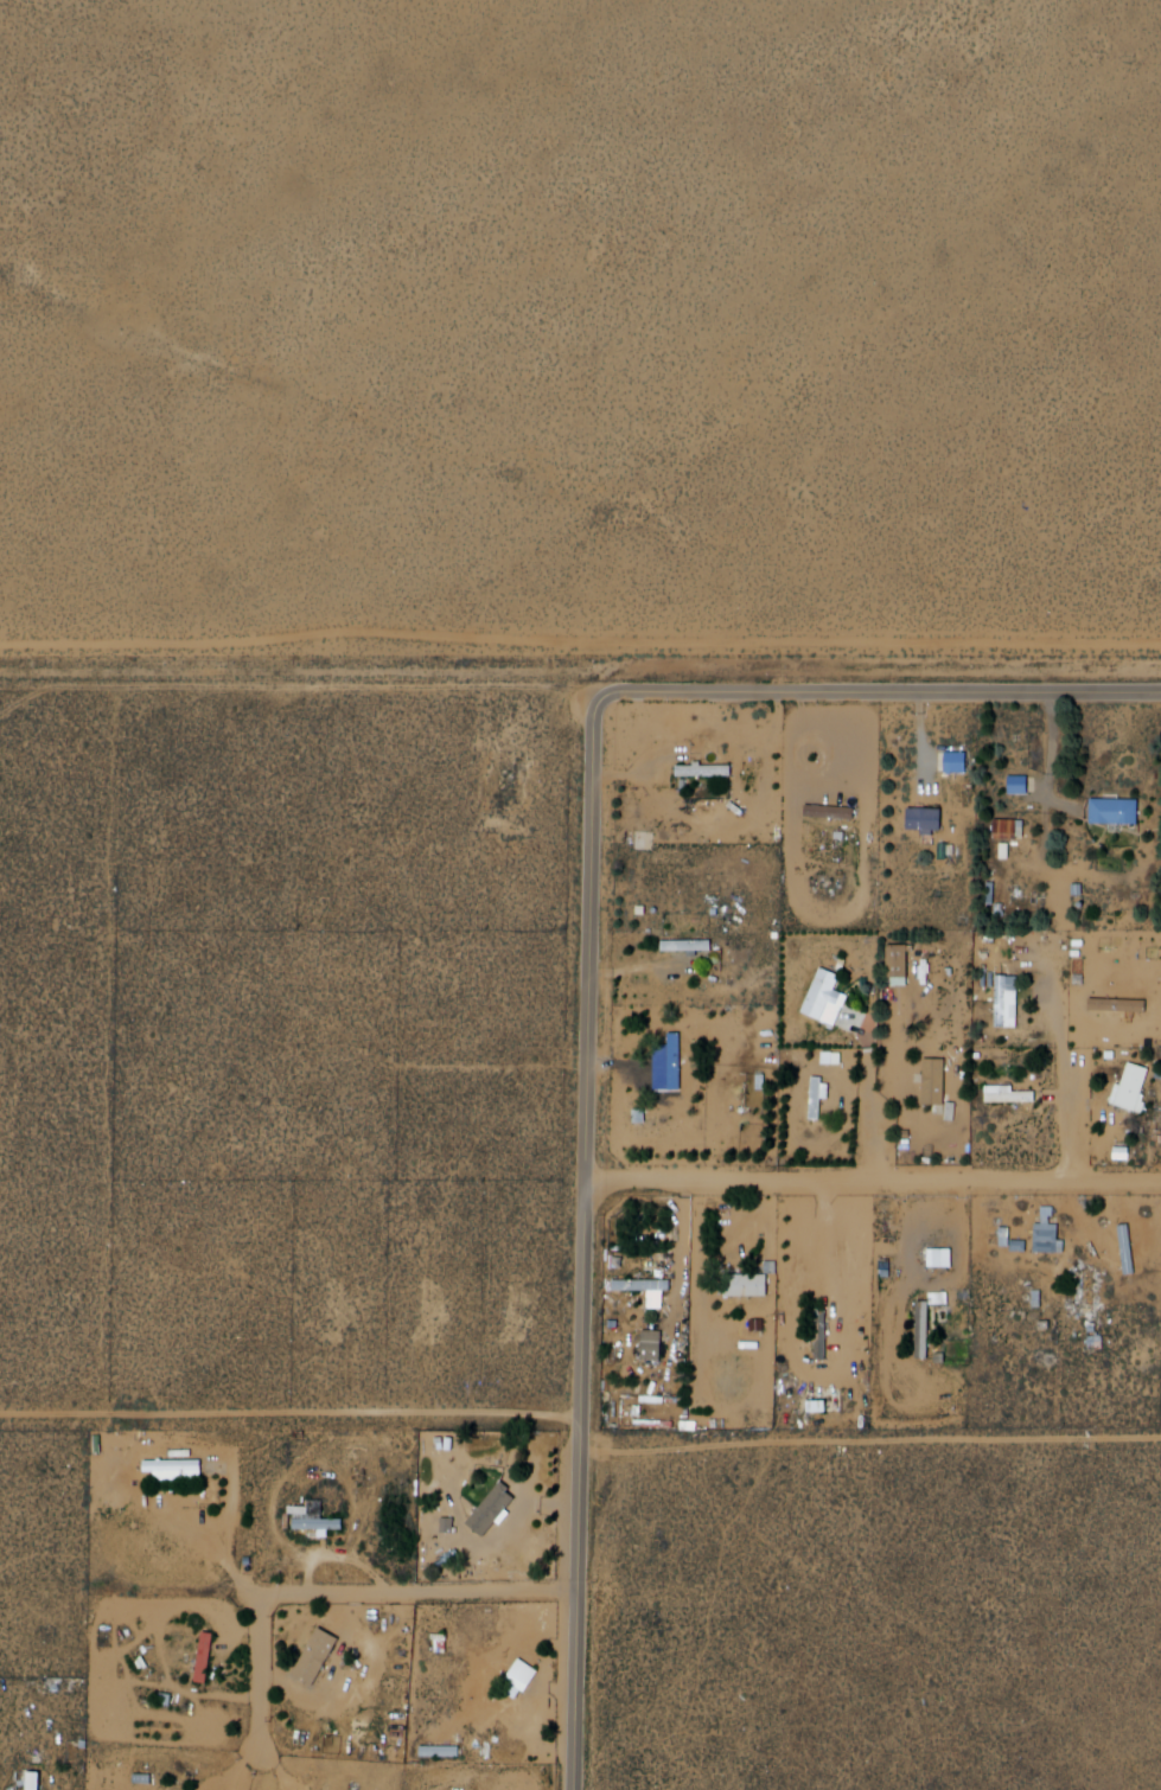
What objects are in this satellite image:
road: (885, 686)
building: (951, 762)
building: (707, 769)
building: (1115, 811)
building: (835, 812)
building: (930, 820)
building: (1006, 829)
building: (694, 945)
building: (901, 960)
building: (824, 992)
building: (1010, 1001)
building: (668, 1061)
building: (676, 1061)
building: (937, 1081)
building: (1134, 1089)
building: (1012, 1094)
building: (814, 1095)
building: (822, 1099)
road: (876, 1121)
road: (1077, 1123)
road: (878, 1181)
road: (594, 1234)
building: (1050, 1234)
building: (1130, 1248)
road: (689, 1264)
building: (747, 1285)
building: (649, 1289)
building: (927, 1329)
building: (919, 1330)
building: (824, 1334)
building: (648, 1347)
road: (295, 1414)
building: (179, 1469)
building: (493, 1511)
building: (325, 1523)
road: (336, 1592)
building: (200, 1657)
building: (210, 1657)
building: (319, 1657)
building: (525, 1679)
building: (446, 1751)
building: (30, 1781)

